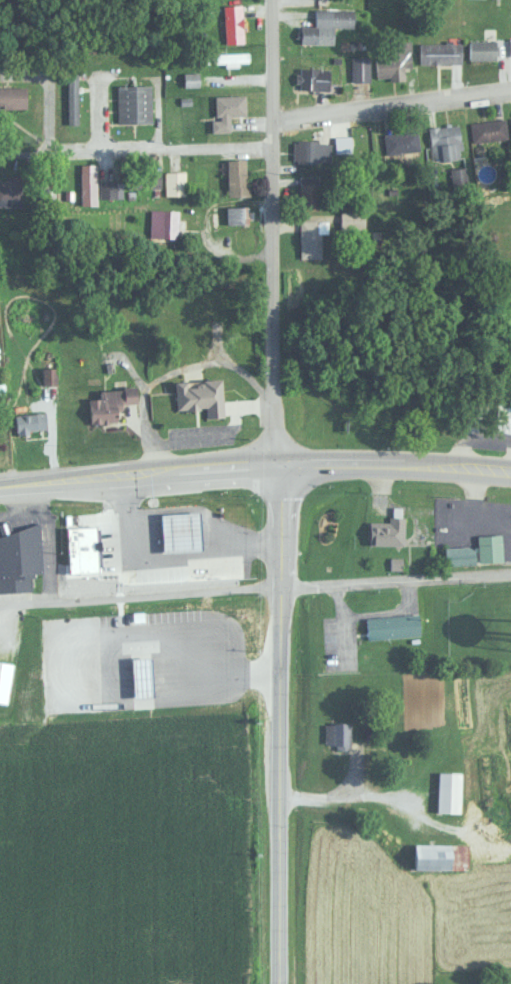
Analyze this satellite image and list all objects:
building: (232, 23)
building: (326, 27)
building: (482, 49)
building: (440, 52)
building: (230, 58)
building: (393, 61)
building: (360, 68)
building: (313, 78)
building: (13, 97)
building: (71, 98)
building: (133, 104)
road: (391, 104)
building: (226, 110)
building: (488, 130)
building: (400, 141)
building: (444, 142)
road: (168, 147)
building: (306, 150)
building: (145, 174)
building: (237, 177)
building: (174, 183)
building: (88, 188)
building: (110, 188)
building: (10, 190)
building: (308, 191)
building: (237, 214)
building: (163, 224)
road: (270, 231)
building: (310, 238)
building: (200, 397)
building: (110, 404)
building: (510, 419)
building: (30, 423)
road: (395, 463)
road: (139, 474)
building: (221, 524)
building: (387, 529)
building: (489, 548)
building: (21, 551)
building: (458, 555)
building: (176, 557)
road: (395, 581)
road: (140, 598)
building: (392, 625)
building: (4, 678)
road: (279, 723)
building: (338, 733)
building: (449, 790)
road: (345, 798)
building: (441, 855)

